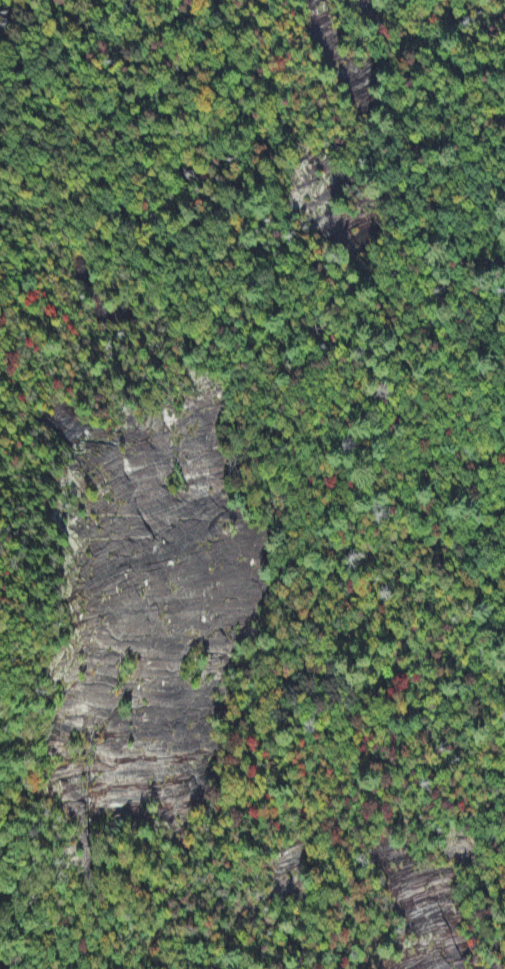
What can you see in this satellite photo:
park: (252, 484)

